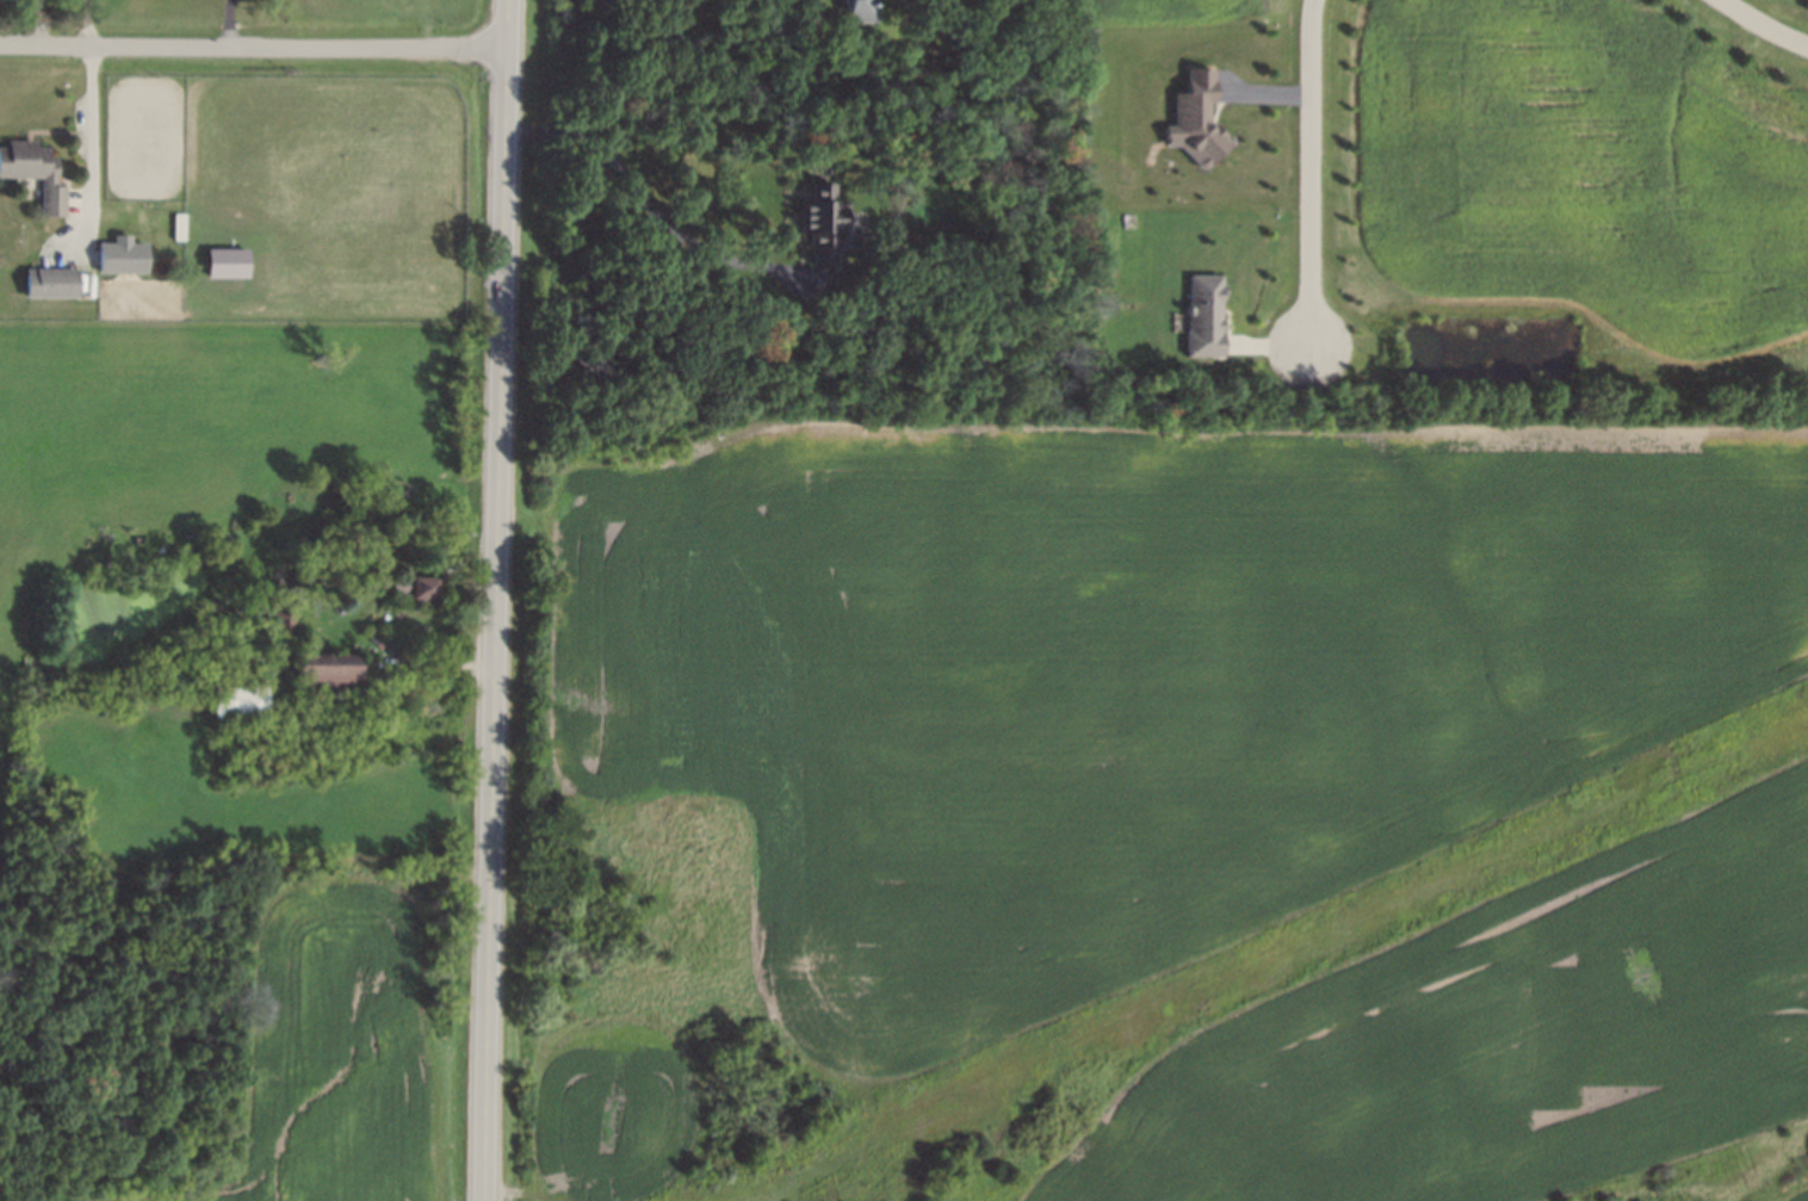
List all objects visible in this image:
building: (859, 11)
crop: (394, 13)
road: (91, 23)
road: (229, 23)
road: (1769, 23)
road: (254, 47)
building: (1195, 119)
road: (92, 171)
building: (33, 173)
road: (1314, 174)
road: (655, 208)
building: (823, 225)
building: (179, 227)
building: (123, 255)
building: (228, 262)
building: (50, 283)
building: (1205, 316)
building: (422, 587)
road: (497, 600)
building: (326, 673)
crop: (1107, 693)
building: (239, 701)
crop: (1503, 1034)
crop: (342, 1059)

